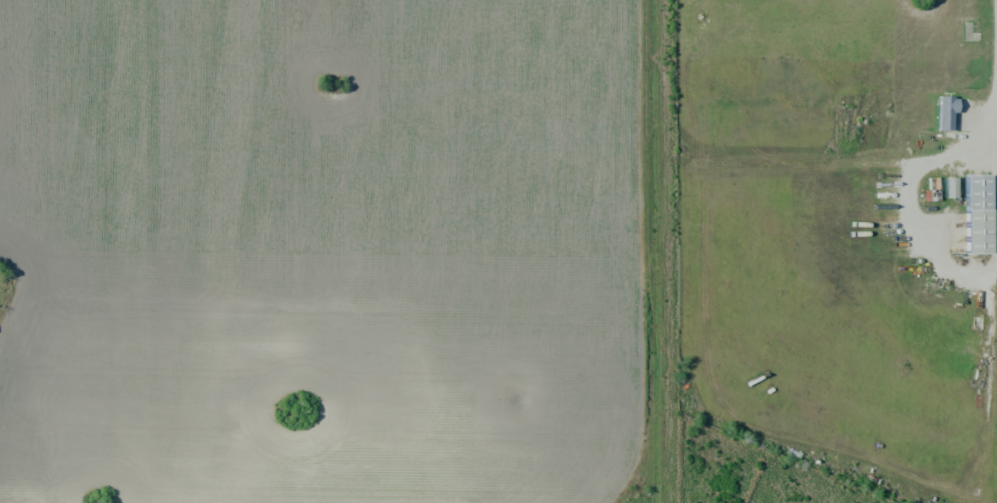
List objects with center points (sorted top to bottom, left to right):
building: (945, 112)
building: (950, 187)
building: (982, 218)
crop: (319, 250)
road: (663, 251)

